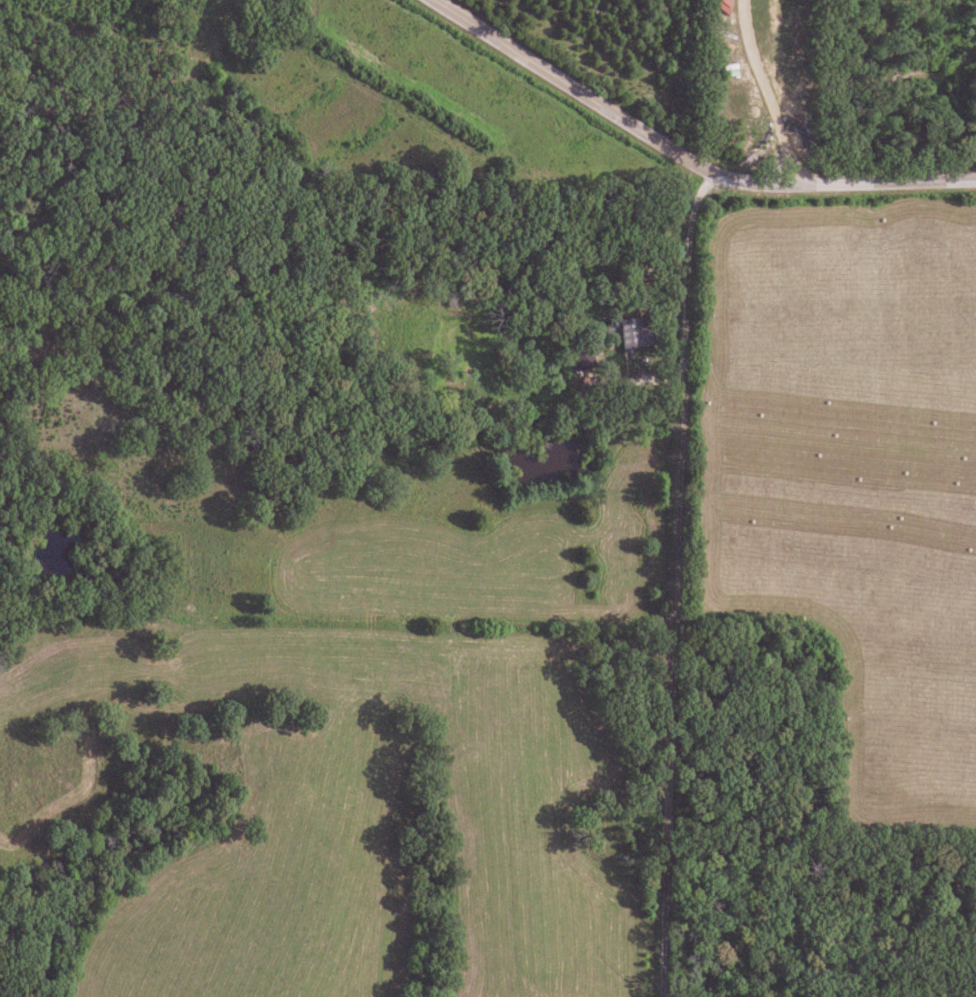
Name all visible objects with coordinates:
road: (762, 94)
road: (684, 158)
road: (676, 583)

